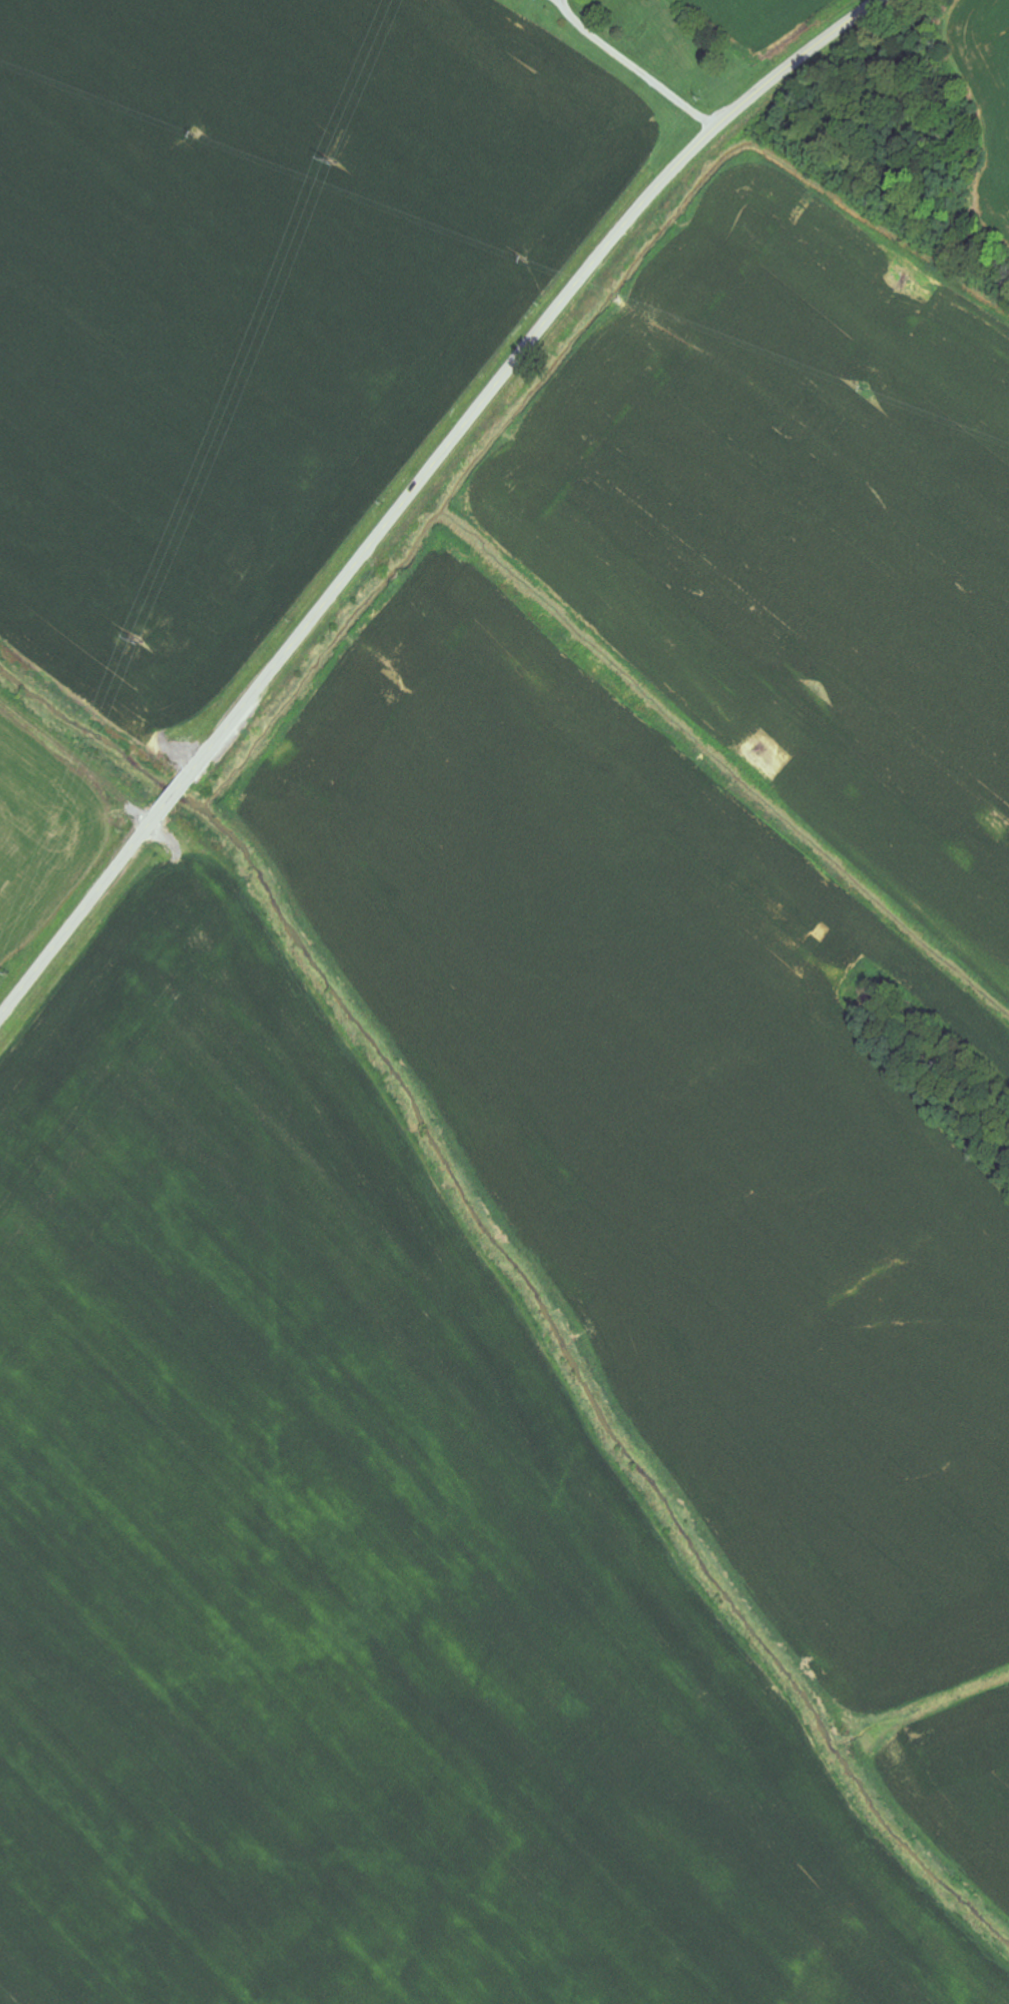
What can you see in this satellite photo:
road: (416, 486)
road: (83, 739)

